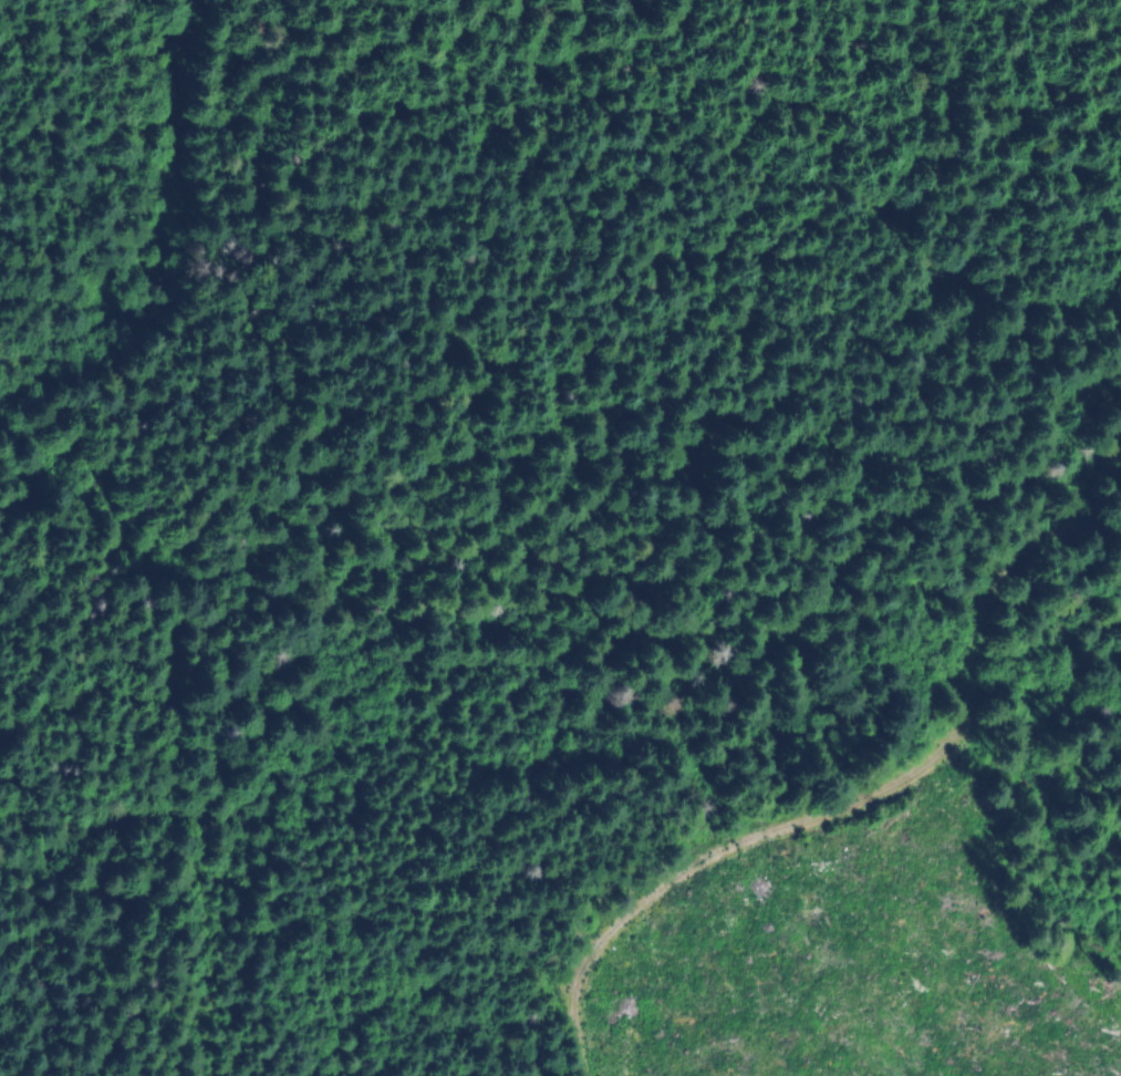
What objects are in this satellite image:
road: (124, 169)

